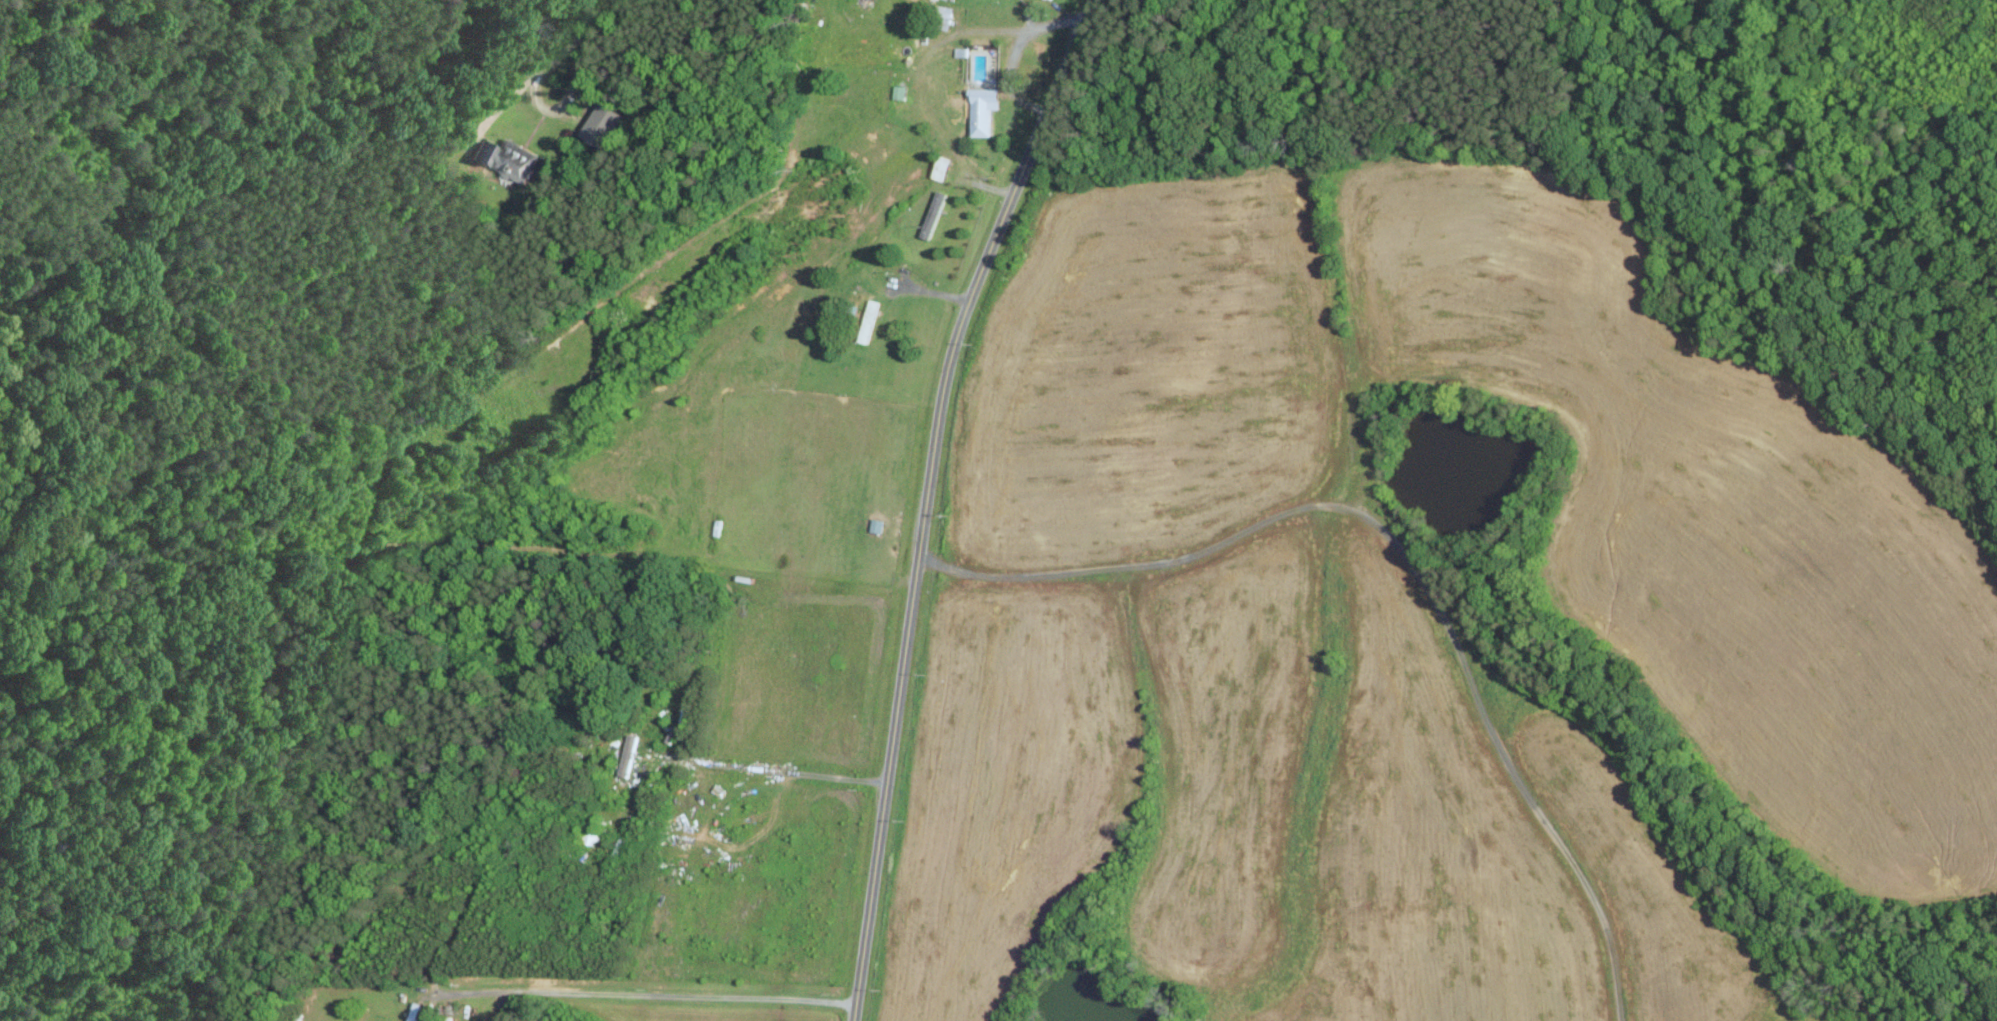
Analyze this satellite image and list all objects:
road: (590, 9)
road: (1015, 51)
road: (544, 105)
road: (504, 106)
building: (982, 122)
building: (603, 124)
building: (512, 160)
building: (934, 214)
road: (926, 498)
road: (1404, 554)
building: (628, 754)
road: (769, 769)
road: (645, 992)

